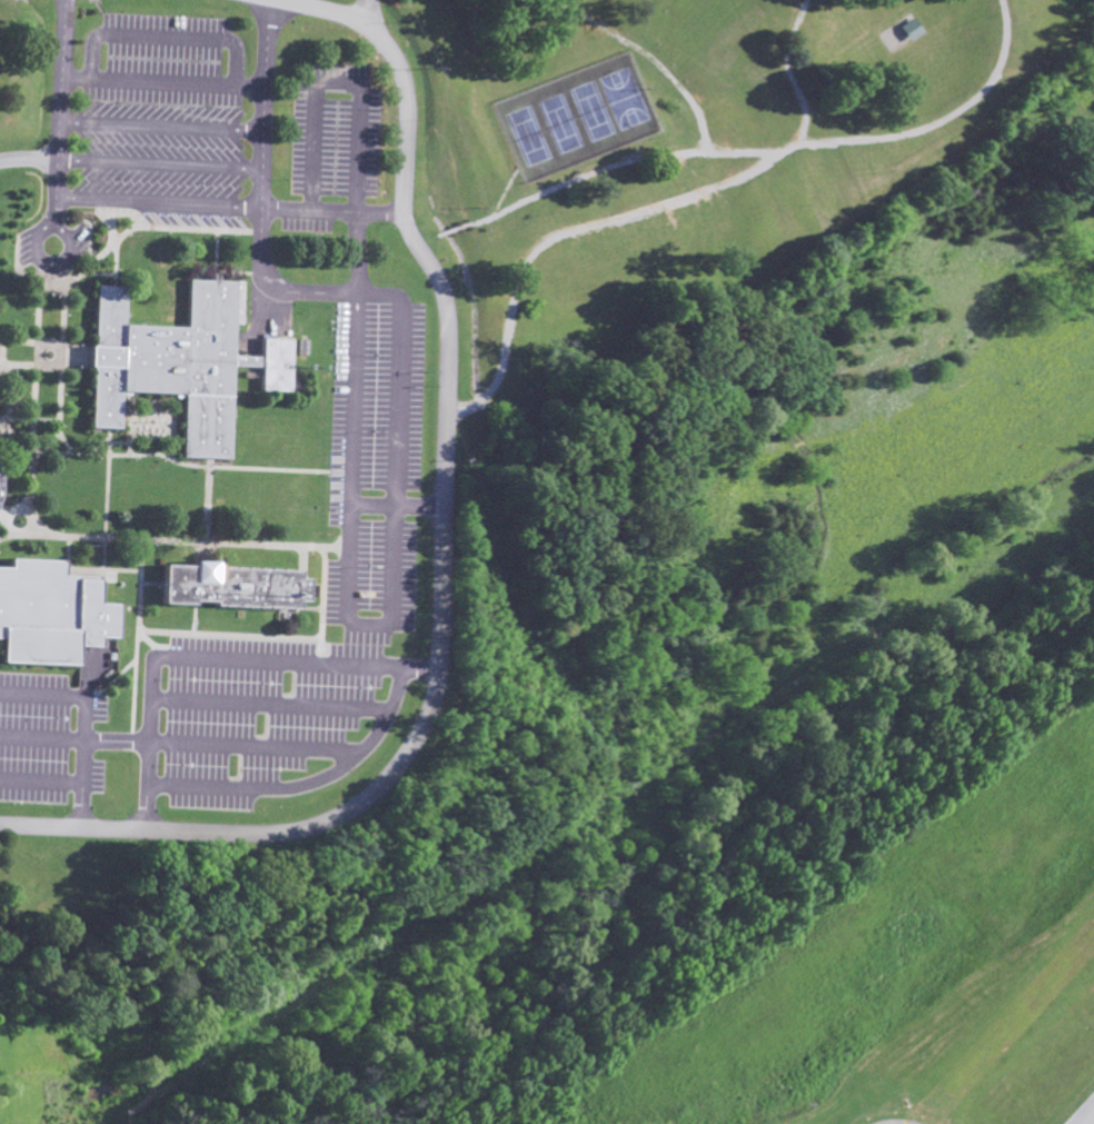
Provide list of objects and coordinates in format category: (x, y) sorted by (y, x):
road: (316, 9)
building: (909, 30)
road: (162, 34)
road: (648, 52)
road: (1051, 62)
road: (794, 72)
road: (161, 78)
road: (340, 81)
road: (59, 105)
road: (941, 119)
park: (580, 120)
road: (160, 125)
parking lot: (162, 125)
parking lot: (338, 129)
road: (158, 161)
road: (606, 169)
road: (261, 188)
road: (137, 201)
road: (335, 209)
road: (56, 212)
road: (110, 212)
road: (143, 227)
road: (570, 230)
road: (358, 251)
road: (43, 261)
road: (112, 272)
road: (358, 295)
building: (179, 365)
road: (68, 409)
road: (42, 415)
road: (60, 441)
road: (77, 451)
road: (165, 456)
parking lot: (380, 462)
road: (237, 467)
road: (396, 505)
road: (3, 534)
road: (172, 540)
road: (148, 554)
road: (146, 576)
building: (223, 588)
road: (434, 596)
building: (49, 613)
road: (280, 635)
road: (416, 665)
road: (275, 702)
parking lot: (262, 713)
road: (76, 735)
road: (84, 735)
parking lot: (36, 736)
road: (259, 744)
road: (361, 754)
road: (79, 803)
road: (148, 808)
airport: (916, 981)

